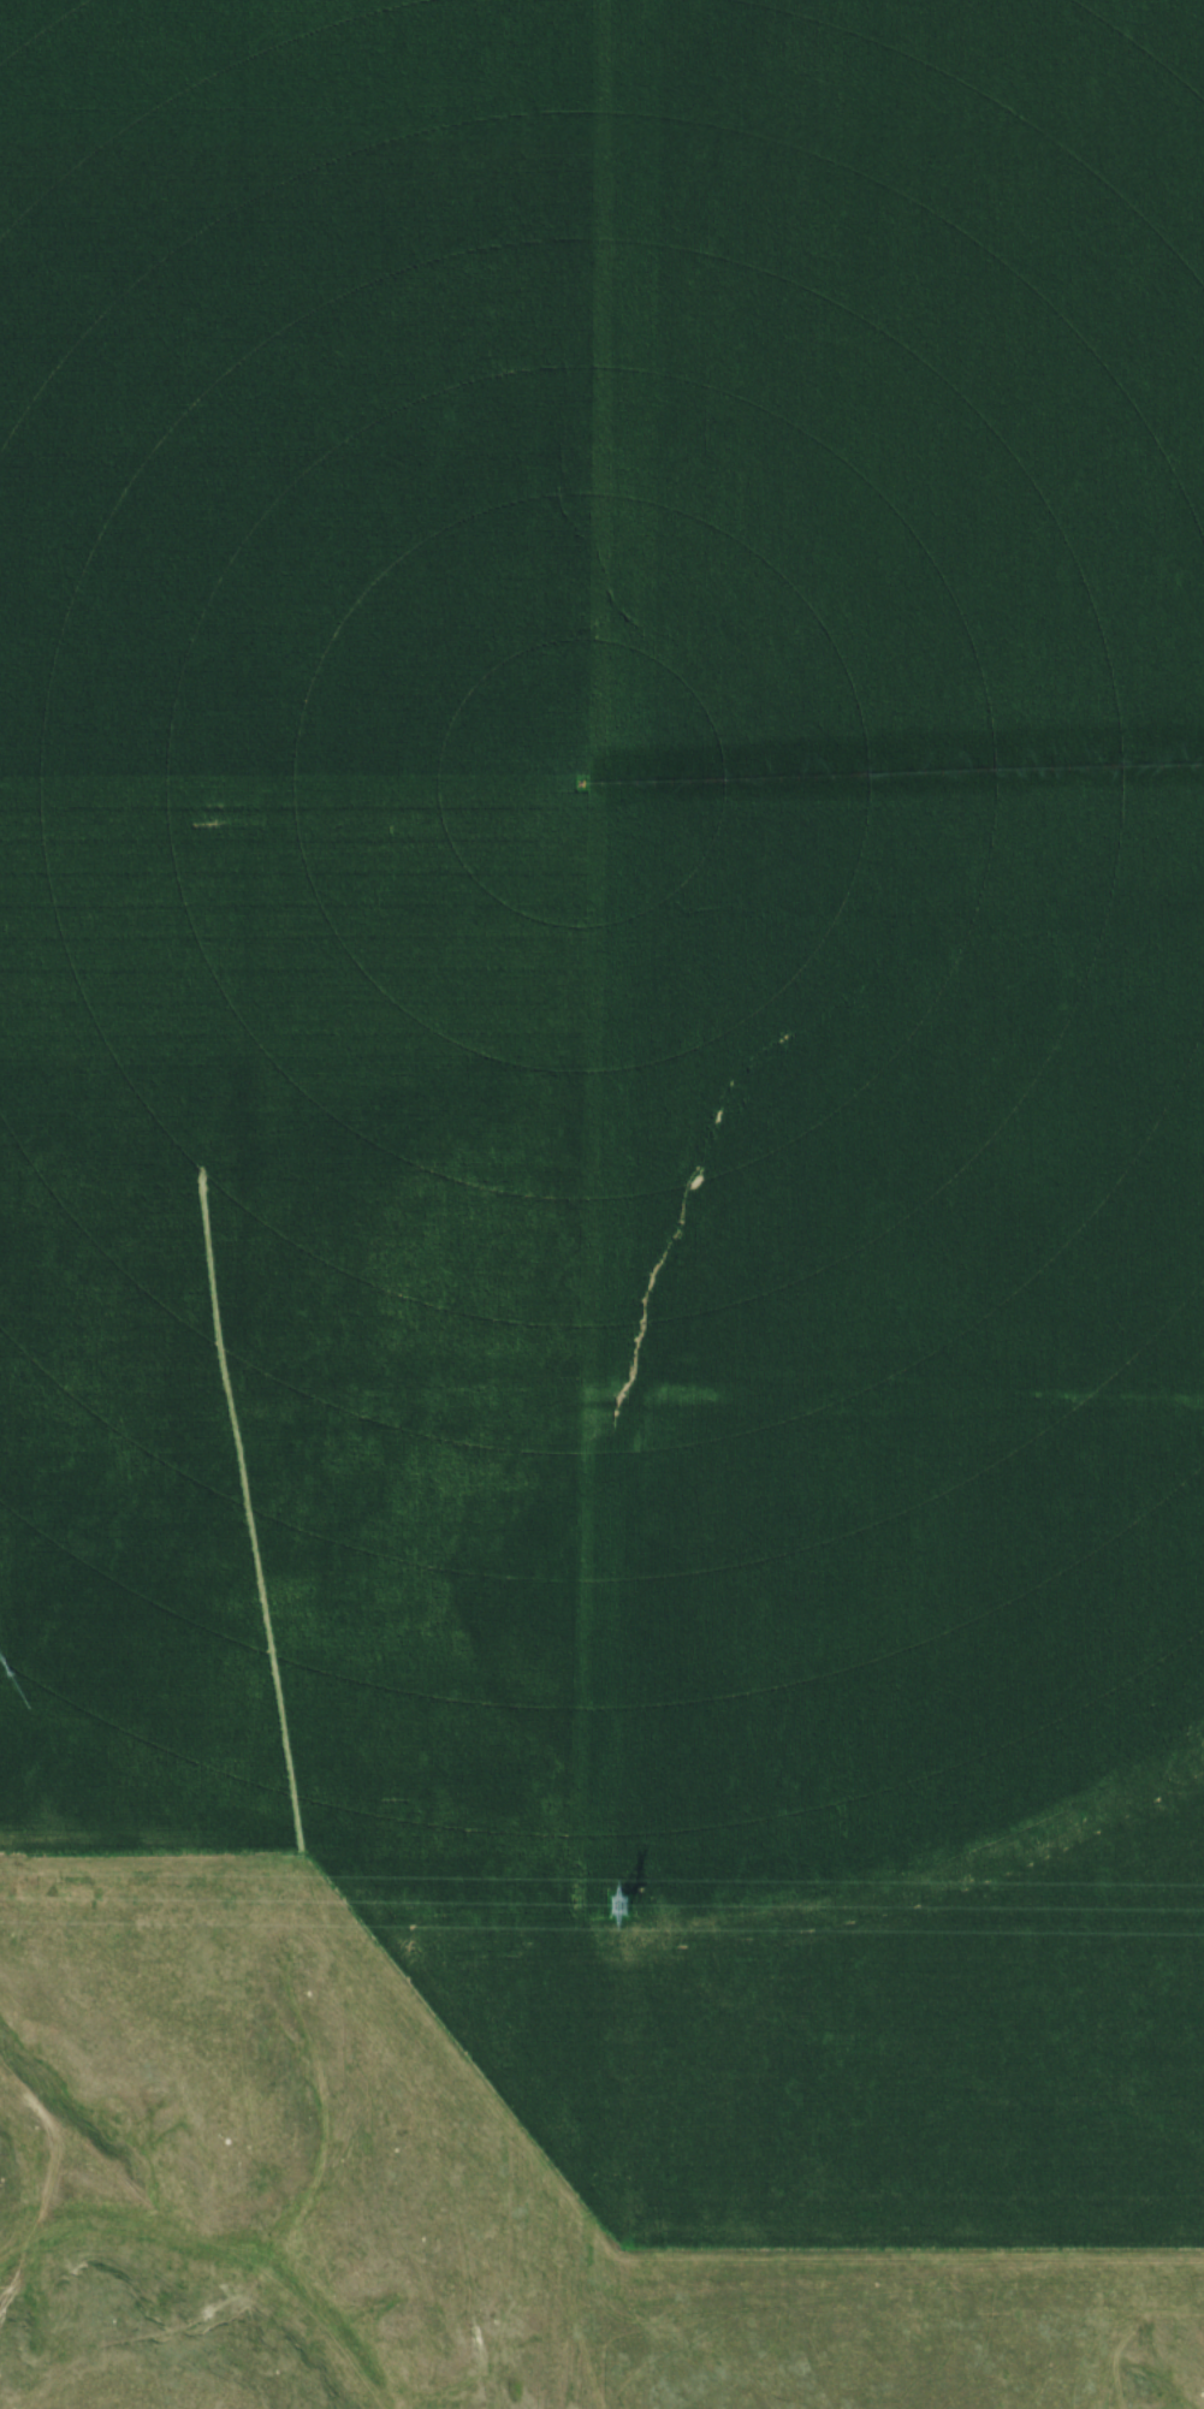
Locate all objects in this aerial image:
building: (189, 1305)
building: (131, 1322)
building: (148, 1381)
road: (641, 1395)
building: (256, 1449)
power tower: (615, 1906)

